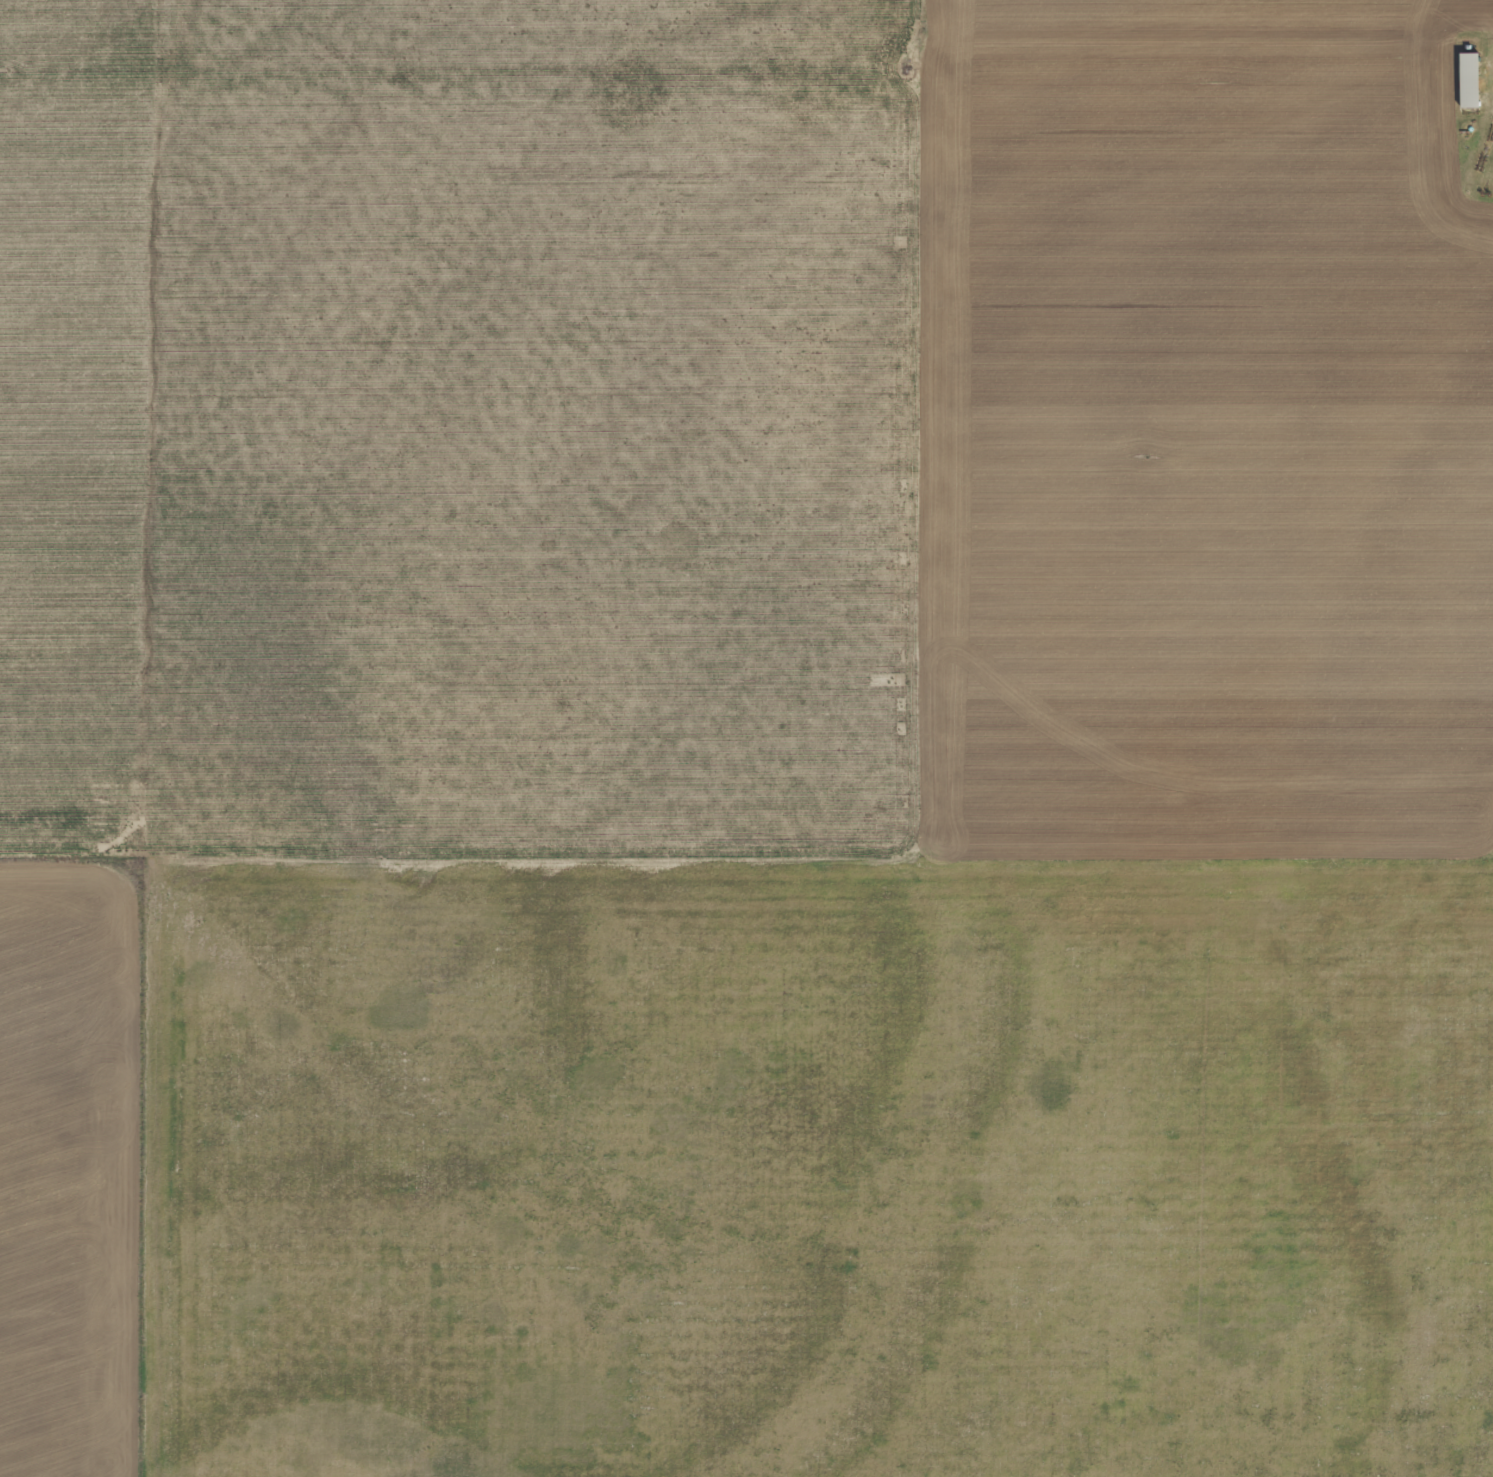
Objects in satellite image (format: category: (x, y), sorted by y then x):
building: (1463, 88)

